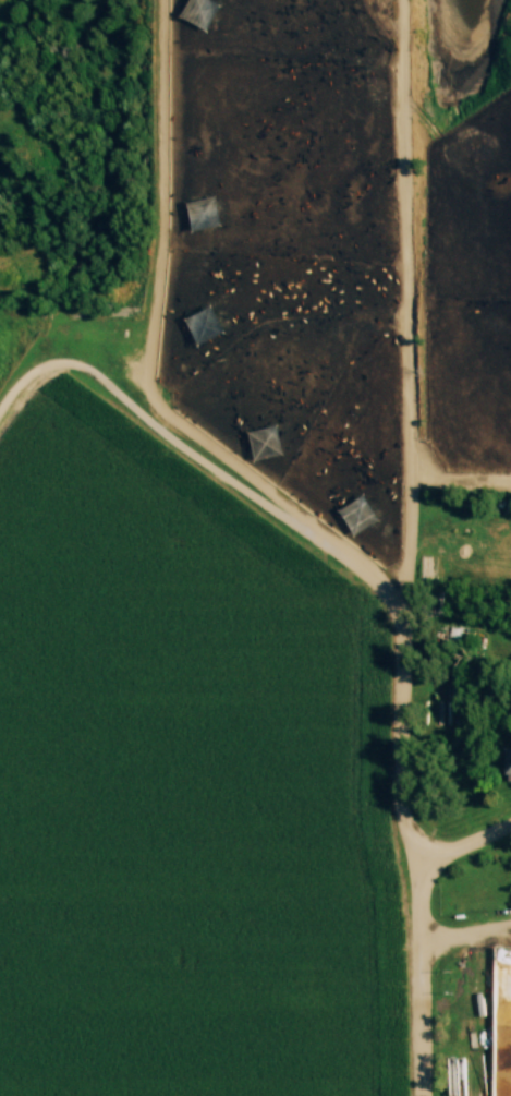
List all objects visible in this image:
road: (160, 302)
road: (411, 432)
road: (203, 462)
building: (508, 766)
road: (470, 847)
road: (425, 974)

